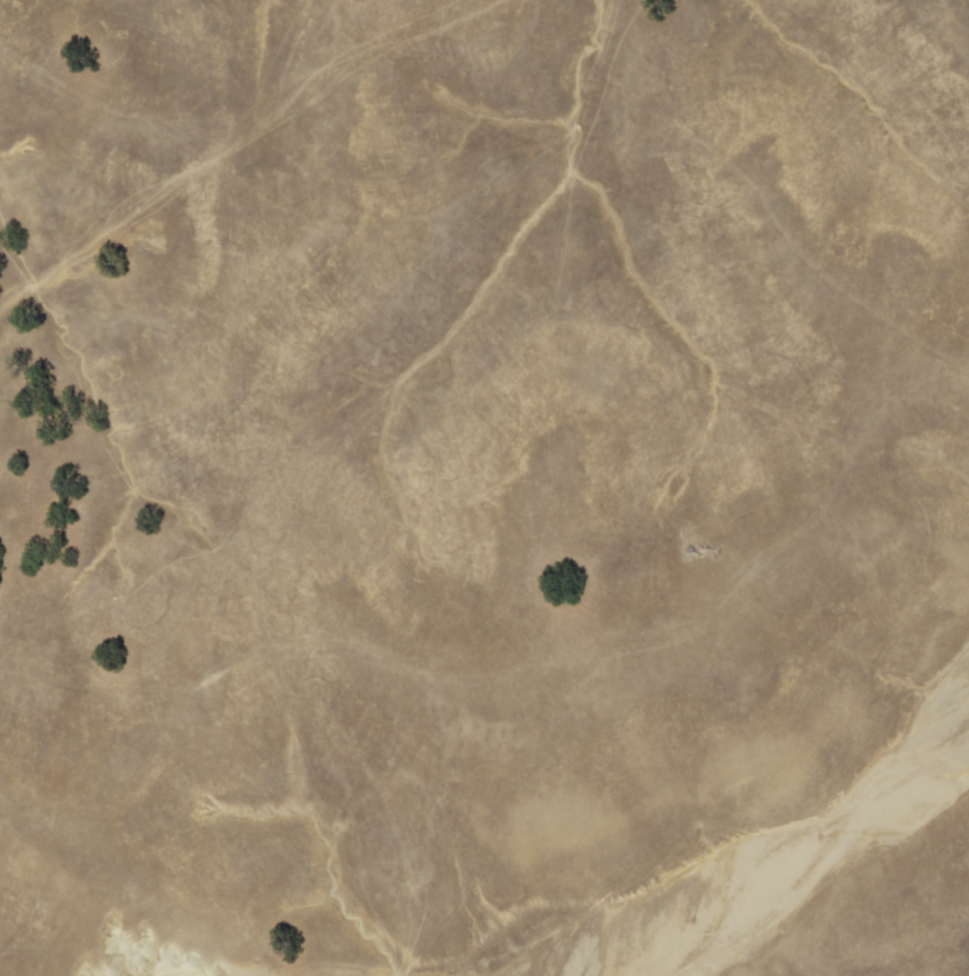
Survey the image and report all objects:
river: (803, 855)

